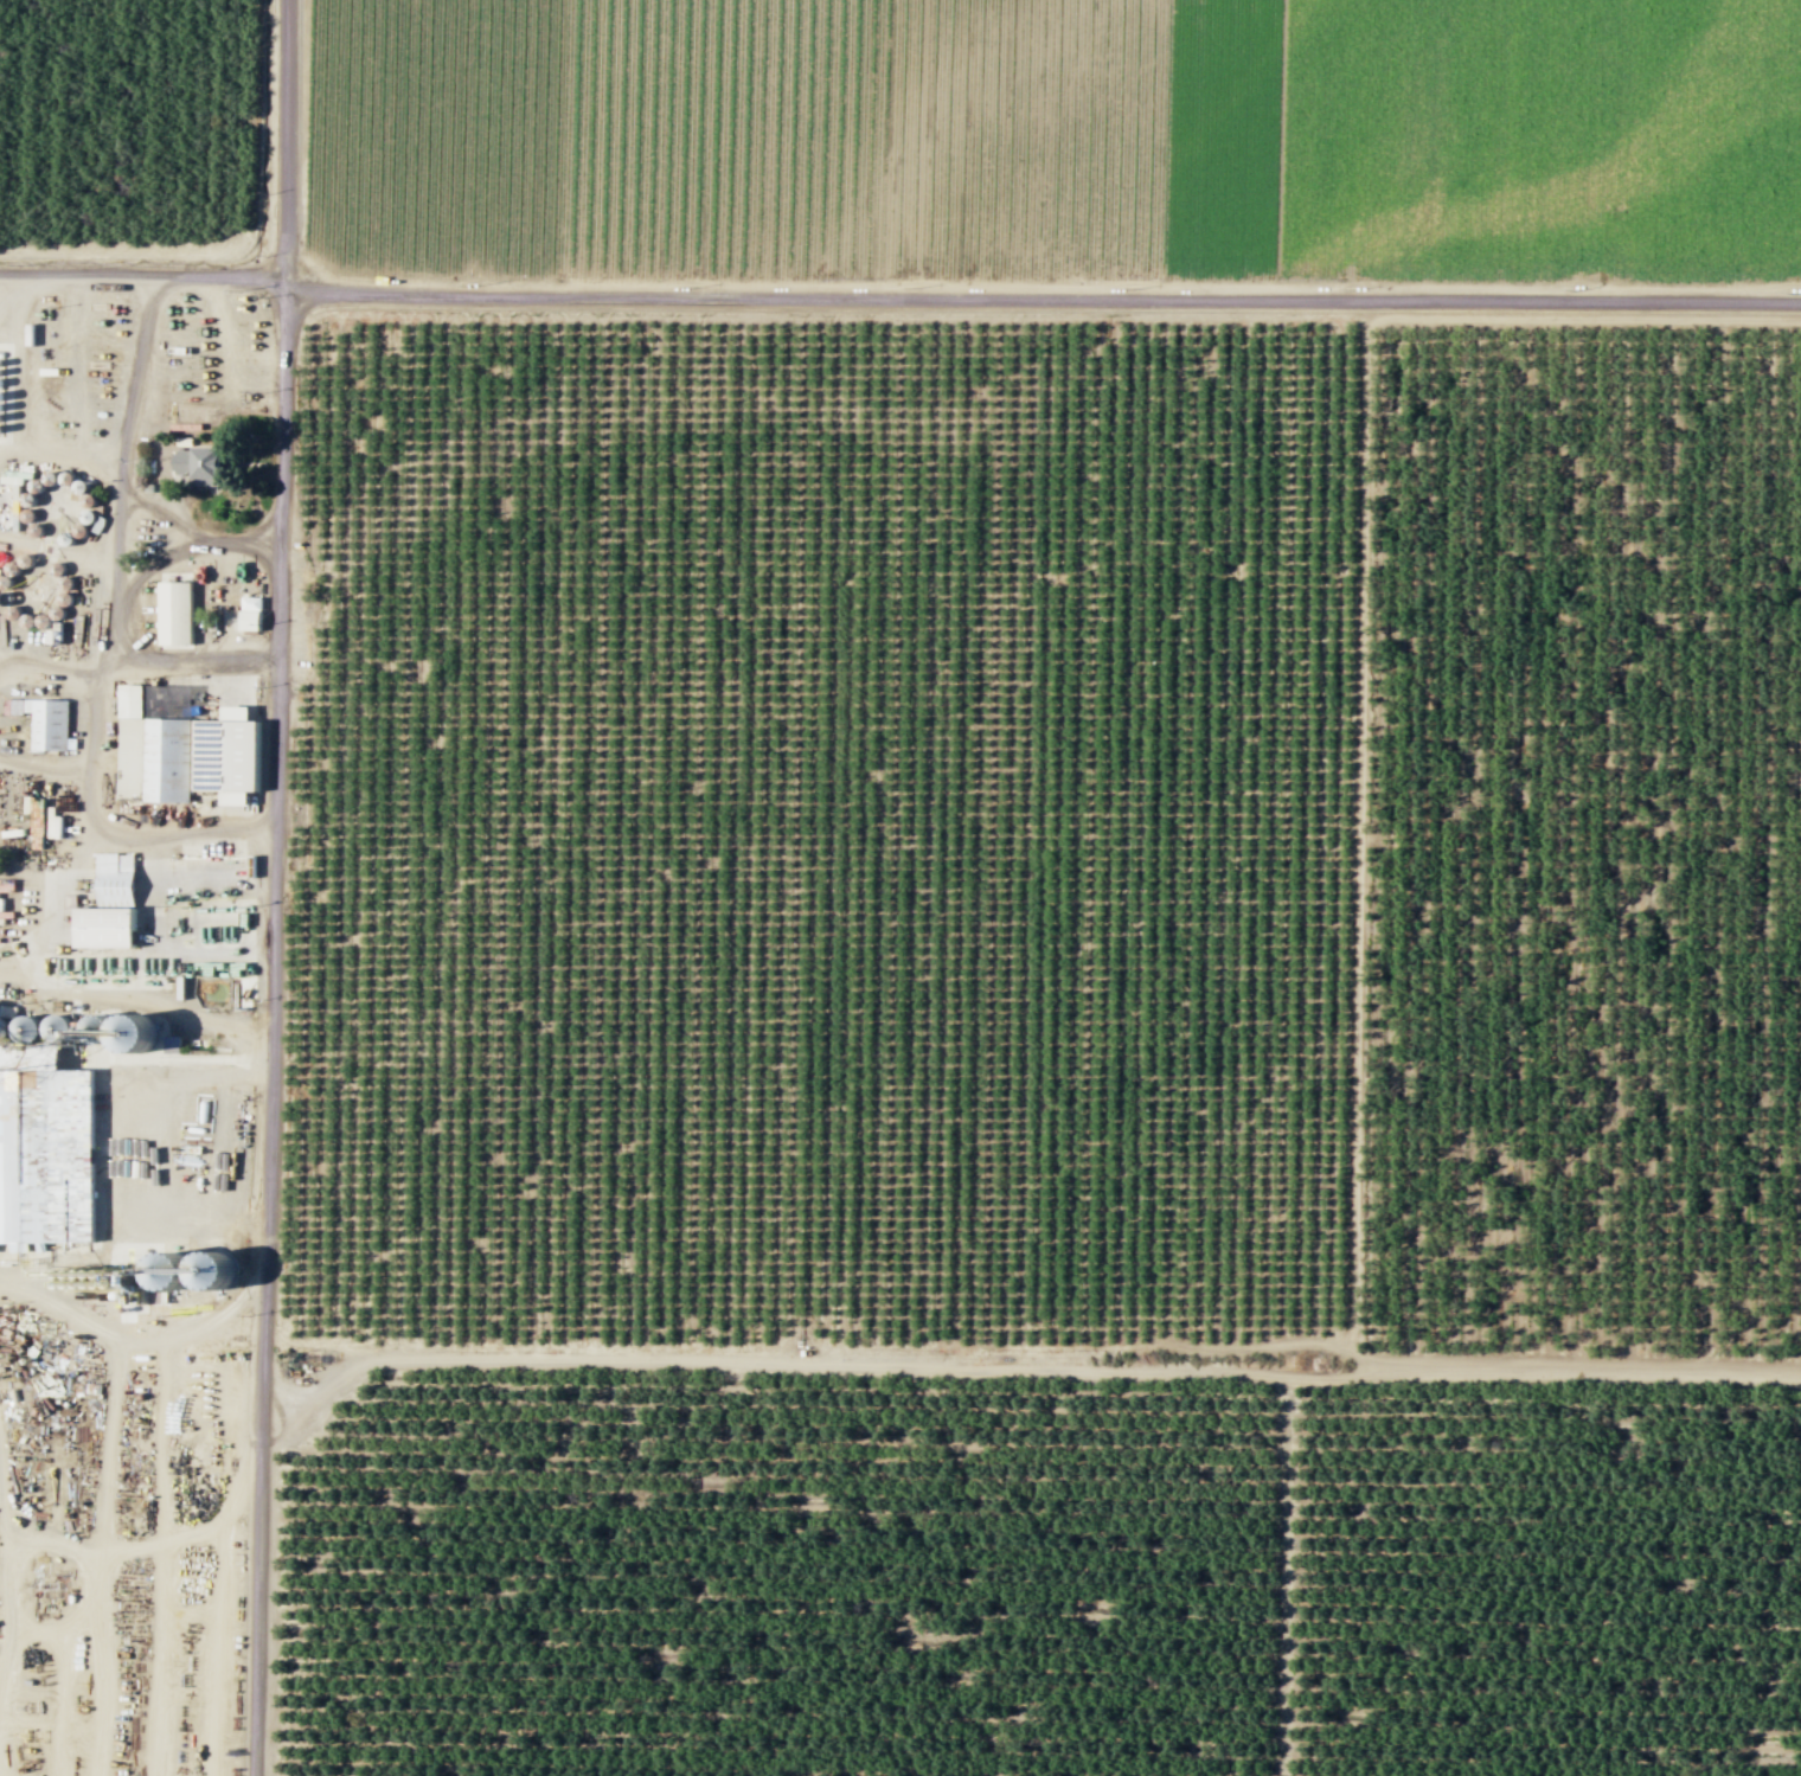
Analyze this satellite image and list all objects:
road: (238, 239)
road: (11, 282)
road: (917, 283)
road: (898, 297)
road: (1182, 315)
road: (1583, 316)
building: (203, 384)
building: (188, 411)
building: (194, 463)
road: (198, 544)
building: (174, 613)
building: (248, 614)
road: (109, 631)
road: (192, 659)
building: (44, 722)
building: (222, 754)
building: (165, 757)
road: (274, 887)
building: (105, 904)
road: (136, 999)
building: (130, 1031)
road: (120, 1143)
building: (44, 1154)
building: (188, 1267)
road: (134, 1339)
road: (1032, 1368)
road: (314, 1398)
road: (1286, 1577)

